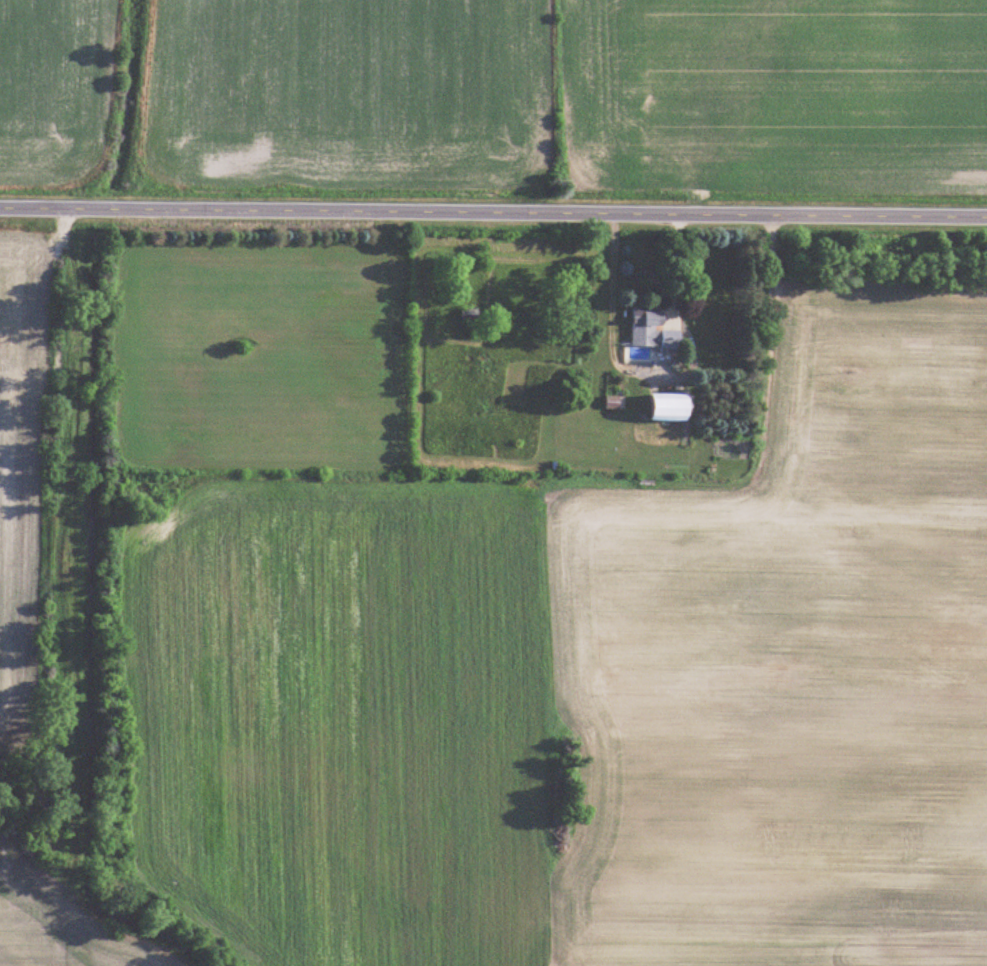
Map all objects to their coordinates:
road: (493, 209)
road: (614, 277)
building: (655, 328)
building: (674, 405)

